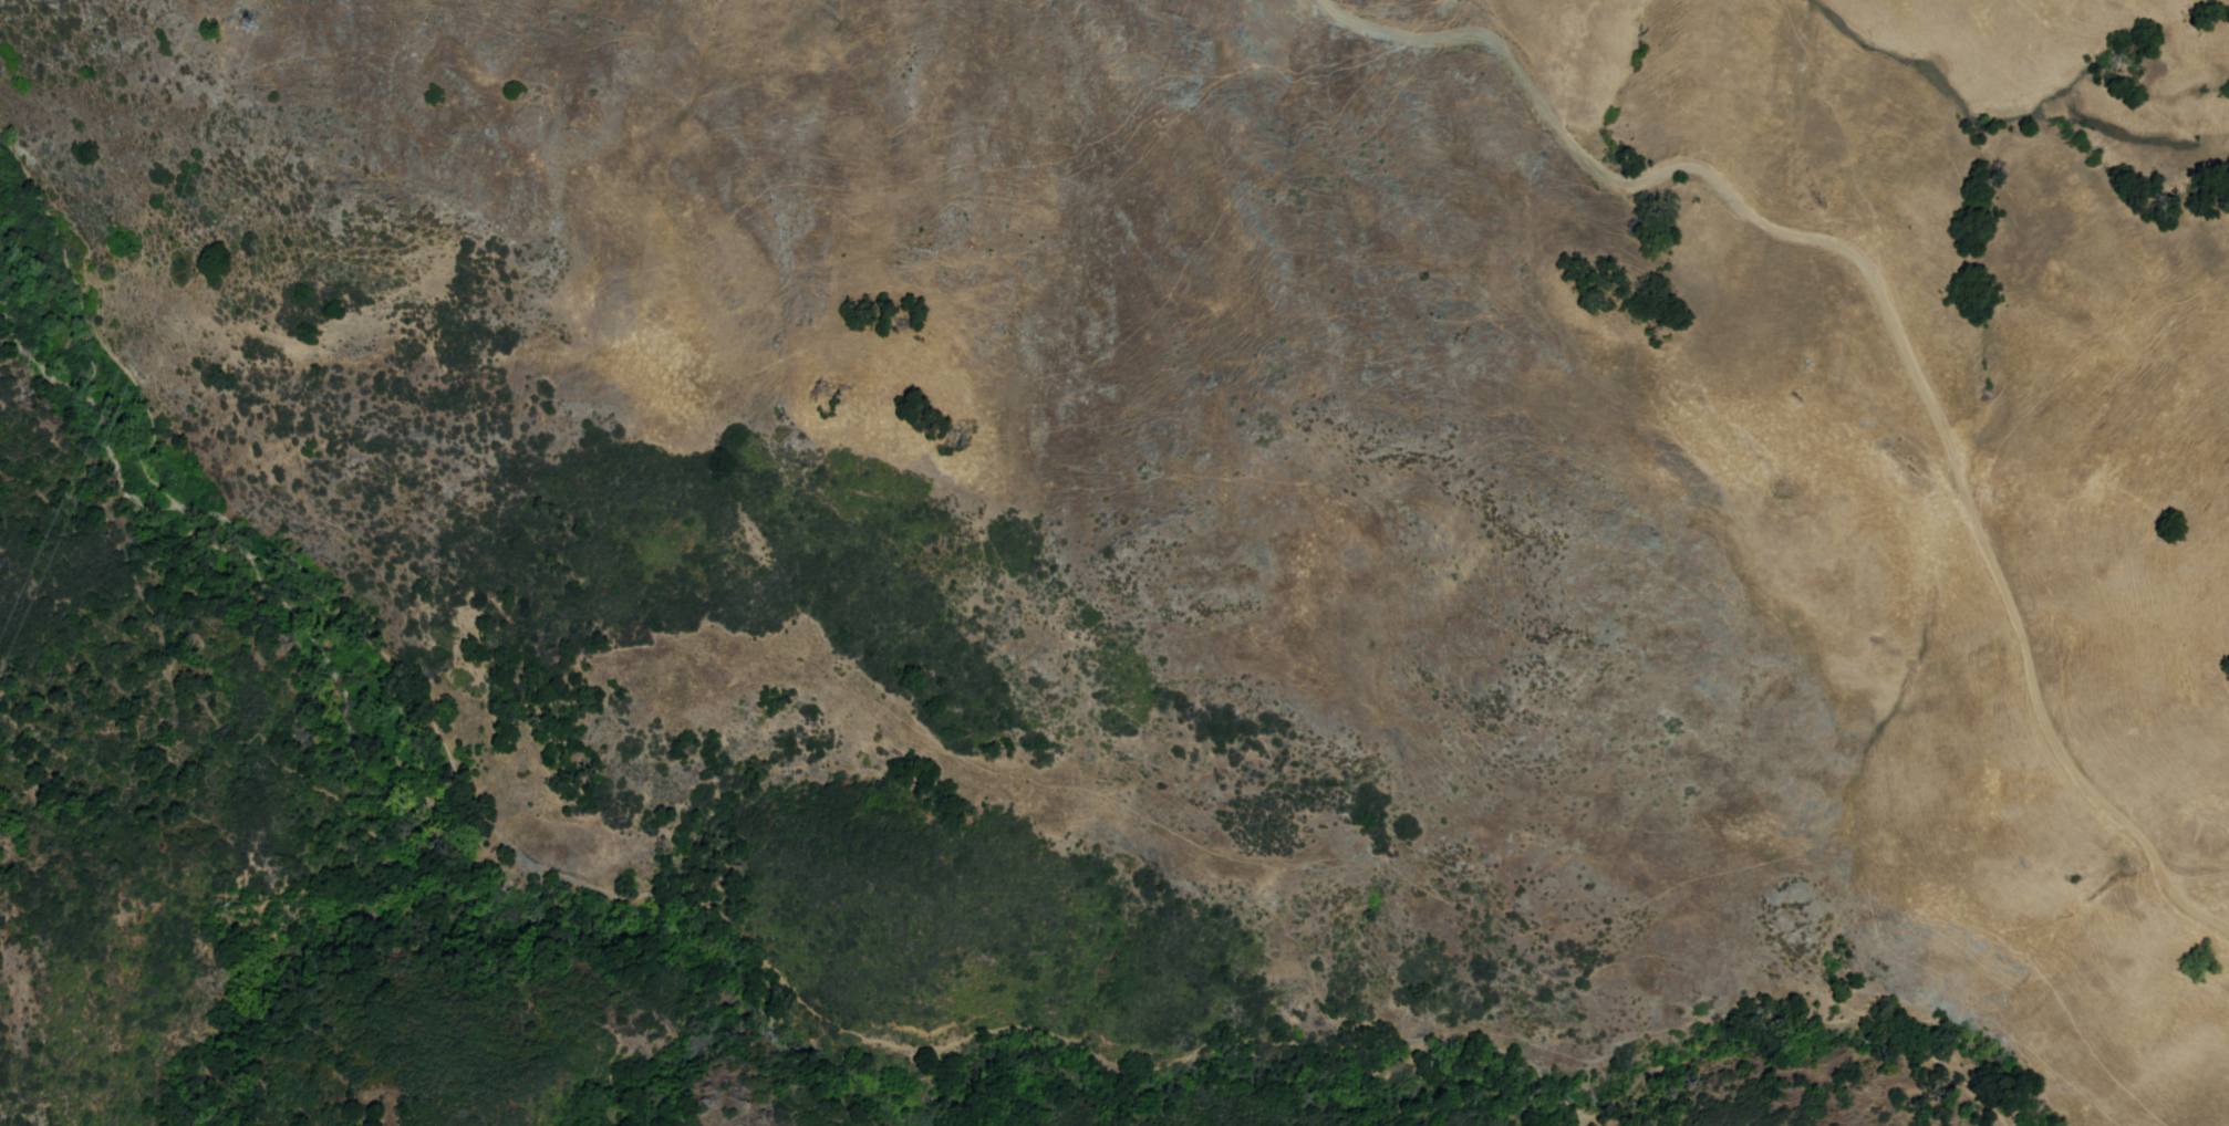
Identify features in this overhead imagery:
power tower: (237, 51)
road: (1896, 314)
road: (227, 734)
road: (2199, 874)
road: (612, 896)

